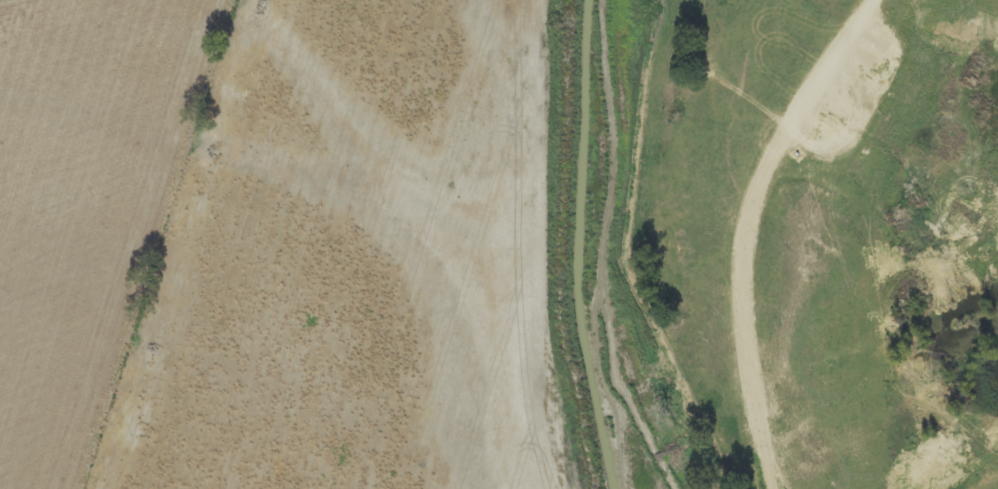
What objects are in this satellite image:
road: (995, 7)
road: (921, 74)
road: (801, 136)

